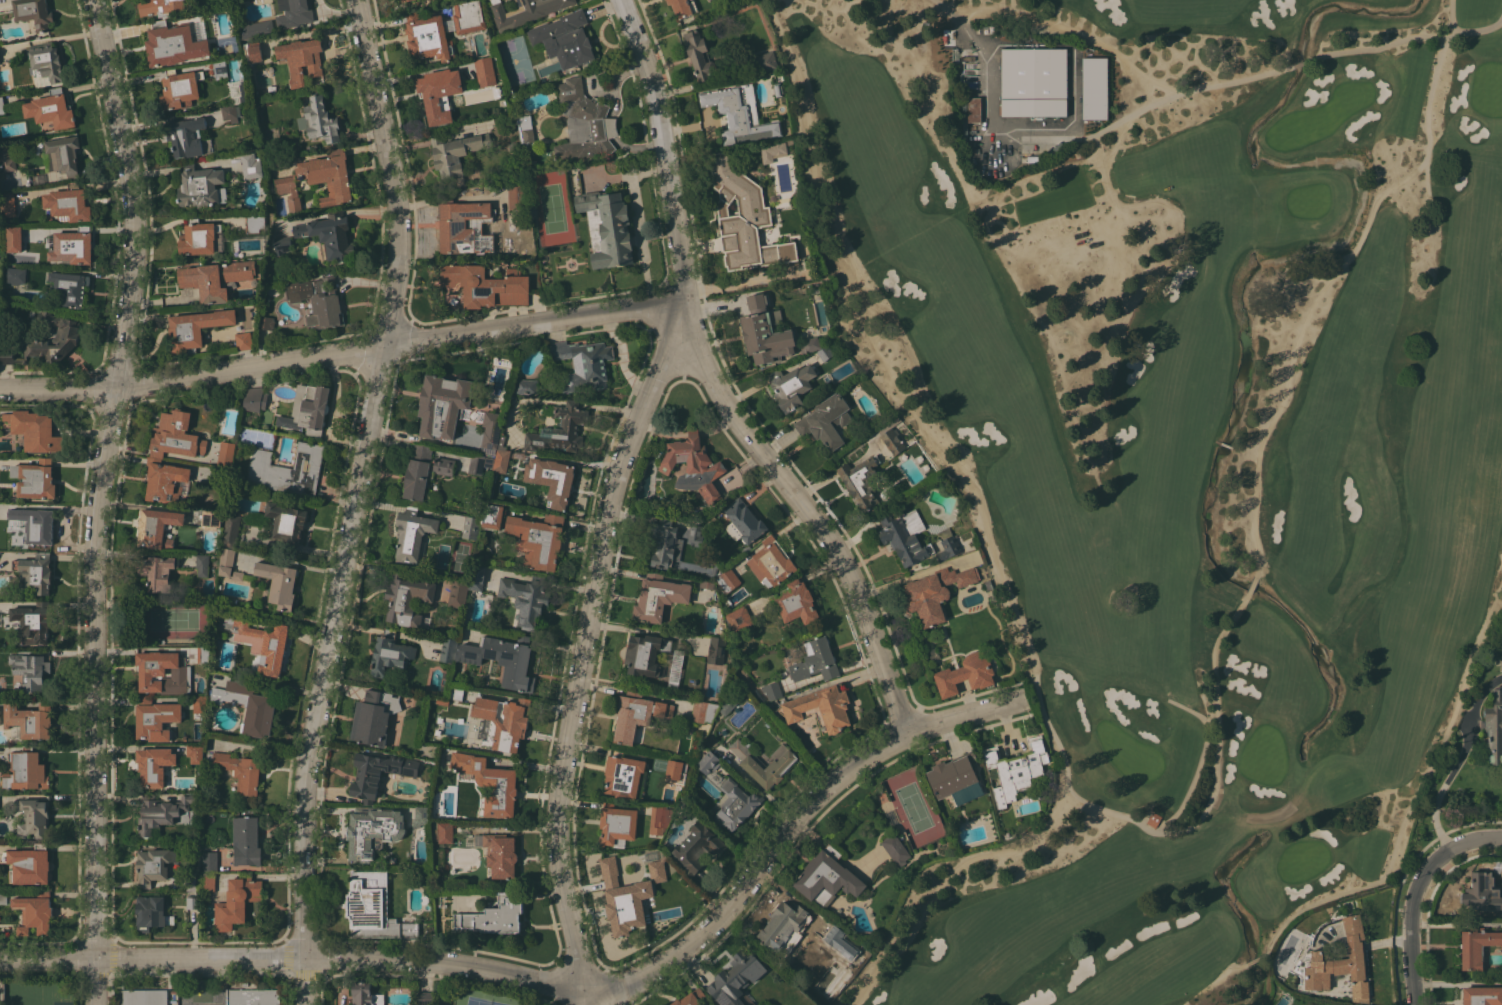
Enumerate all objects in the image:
building: (404, 0)
building: (160, 7)
building: (683, 7)
building: (524, 11)
building: (294, 12)
building: (33, 13)
building: (466, 17)
road: (954, 21)
building: (255, 28)
road: (1068, 28)
road: (1466, 30)
building: (428, 37)
building: (564, 39)
building: (173, 44)
road: (1383, 44)
building: (252, 51)
building: (698, 54)
building: (468, 55)
building: (301, 59)
park: (516, 60)
building: (764, 62)
road: (1300, 62)
building: (45, 64)
building: (963, 66)
building: (219, 68)
building: (484, 71)
building: (179, 89)
building: (777, 89)
building: (238, 91)
building: (437, 94)
building: (499, 94)
road: (1168, 96)
building: (1057, 97)
building: (2, 105)
building: (51, 109)
building: (974, 109)
building: (230, 113)
building: (739, 114)
building: (318, 120)
building: (584, 122)
building: (527, 135)
building: (186, 136)
building: (789, 141)
building: (514, 146)
road: (667, 146)
building: (772, 151)
building: (454, 152)
building: (63, 154)
building: (6, 159)
building: (251, 164)
building: (999, 165)
road: (394, 174)
building: (318, 179)
road: (1425, 180)
building: (200, 186)
road: (126, 194)
building: (516, 196)
building: (7, 204)
building: (68, 204)
park: (551, 207)
building: (334, 209)
building: (741, 217)
building: (254, 222)
building: (462, 225)
building: (606, 227)
building: (329, 234)
building: (210, 238)
building: (13, 239)
building: (281, 245)
building: (70, 246)
building: (1, 256)
building: (15, 275)
building: (214, 278)
building: (486, 285)
building: (69, 288)
road: (1321, 292)
building: (453, 298)
building: (318, 300)
building: (265, 322)
building: (196, 328)
building: (764, 332)
building: (47, 340)
building: (243, 340)
building: (810, 344)
road: (344, 353)
building: (827, 355)
building: (582, 365)
building: (791, 385)
building: (525, 386)
building: (254, 399)
building: (442, 405)
building: (307, 409)
building: (825, 421)
building: (491, 428)
building: (34, 430)
building: (559, 430)
building: (175, 435)
building: (891, 437)
park: (1179, 440)
building: (500, 442)
building: (226, 453)
building: (500, 461)
building: (479, 463)
building: (443, 465)
building: (693, 466)
building: (287, 470)
building: (417, 472)
building: (215, 477)
building: (35, 479)
building: (551, 479)
building: (164, 480)
building: (860, 482)
road: (804, 510)
building: (493, 515)
building: (211, 519)
building: (711, 520)
building: (743, 523)
building: (287, 524)
building: (34, 525)
building: (470, 527)
building: (157, 528)
road: (986, 529)
building: (230, 530)
building: (412, 534)
building: (697, 535)
building: (904, 535)
building: (537, 539)
building: (663, 543)
building: (947, 545)
building: (225, 560)
building: (772, 562)
building: (202, 565)
building: (34, 572)
building: (156, 572)
building: (237, 575)
building: (477, 577)
building: (727, 580)
building: (277, 584)
building: (706, 584)
building: (457, 592)
building: (936, 592)
building: (658, 597)
building: (406, 598)
building: (526, 599)
building: (796, 602)
building: (738, 617)
park: (174, 619)
building: (31, 623)
building: (260, 641)
building: (447, 649)
building: (716, 649)
road: (327, 650)
building: (389, 653)
building: (203, 654)
building: (503, 658)
building: (652, 658)
building: (815, 660)
road: (579, 662)
building: (29, 670)
building: (163, 672)
building: (965, 674)
building: (771, 690)
building: (455, 692)
road: (93, 696)
building: (731, 696)
building: (441, 702)
building: (199, 704)
building: (247, 704)
building: (766, 708)
building: (820, 708)
building: (703, 711)
building: (636, 714)
building: (374, 716)
building: (155, 718)
building: (30, 720)
building: (503, 720)
building: (1494, 726)
building: (194, 752)
road: (1199, 760)
road: (1456, 760)
building: (708, 762)
building: (763, 764)
building: (153, 765)
building: (673, 769)
building: (1015, 769)
building: (25, 770)
building: (239, 770)
building: (377, 773)
building: (622, 774)
road: (1214, 777)
building: (956, 778)
building: (489, 783)
building: (735, 805)
park: (913, 807)
building: (159, 813)
building: (418, 816)
building: (32, 817)
building: (1151, 818)
building: (656, 819)
building: (617, 824)
building: (372, 830)
building: (433, 830)
building: (444, 832)
building: (246, 840)
building: (697, 847)
road: (1394, 848)
building: (895, 849)
building: (502, 856)
building: (437, 857)
building: (209, 862)
building: (28, 864)
building: (153, 865)
building: (827, 877)
road: (1423, 877)
building: (207, 881)
building: (192, 882)
building: (1481, 892)
building: (628, 895)
building: (3, 898)
building: (237, 901)
building: (193, 902)
building: (373, 908)
building: (151, 912)
building: (34, 913)
building: (495, 915)
building: (783, 923)
building: (831, 938)
building: (1476, 947)
road: (1253, 960)
building: (1342, 963)
road: (1235, 969)
building: (736, 978)
road: (309, 981)
road: (561, 986)
road: (1413, 986)
building: (365, 995)
building: (1481, 995)
building: (145, 997)
building: (252, 997)
building: (424, 998)
building: (690, 998)
park: (481, 1001)

